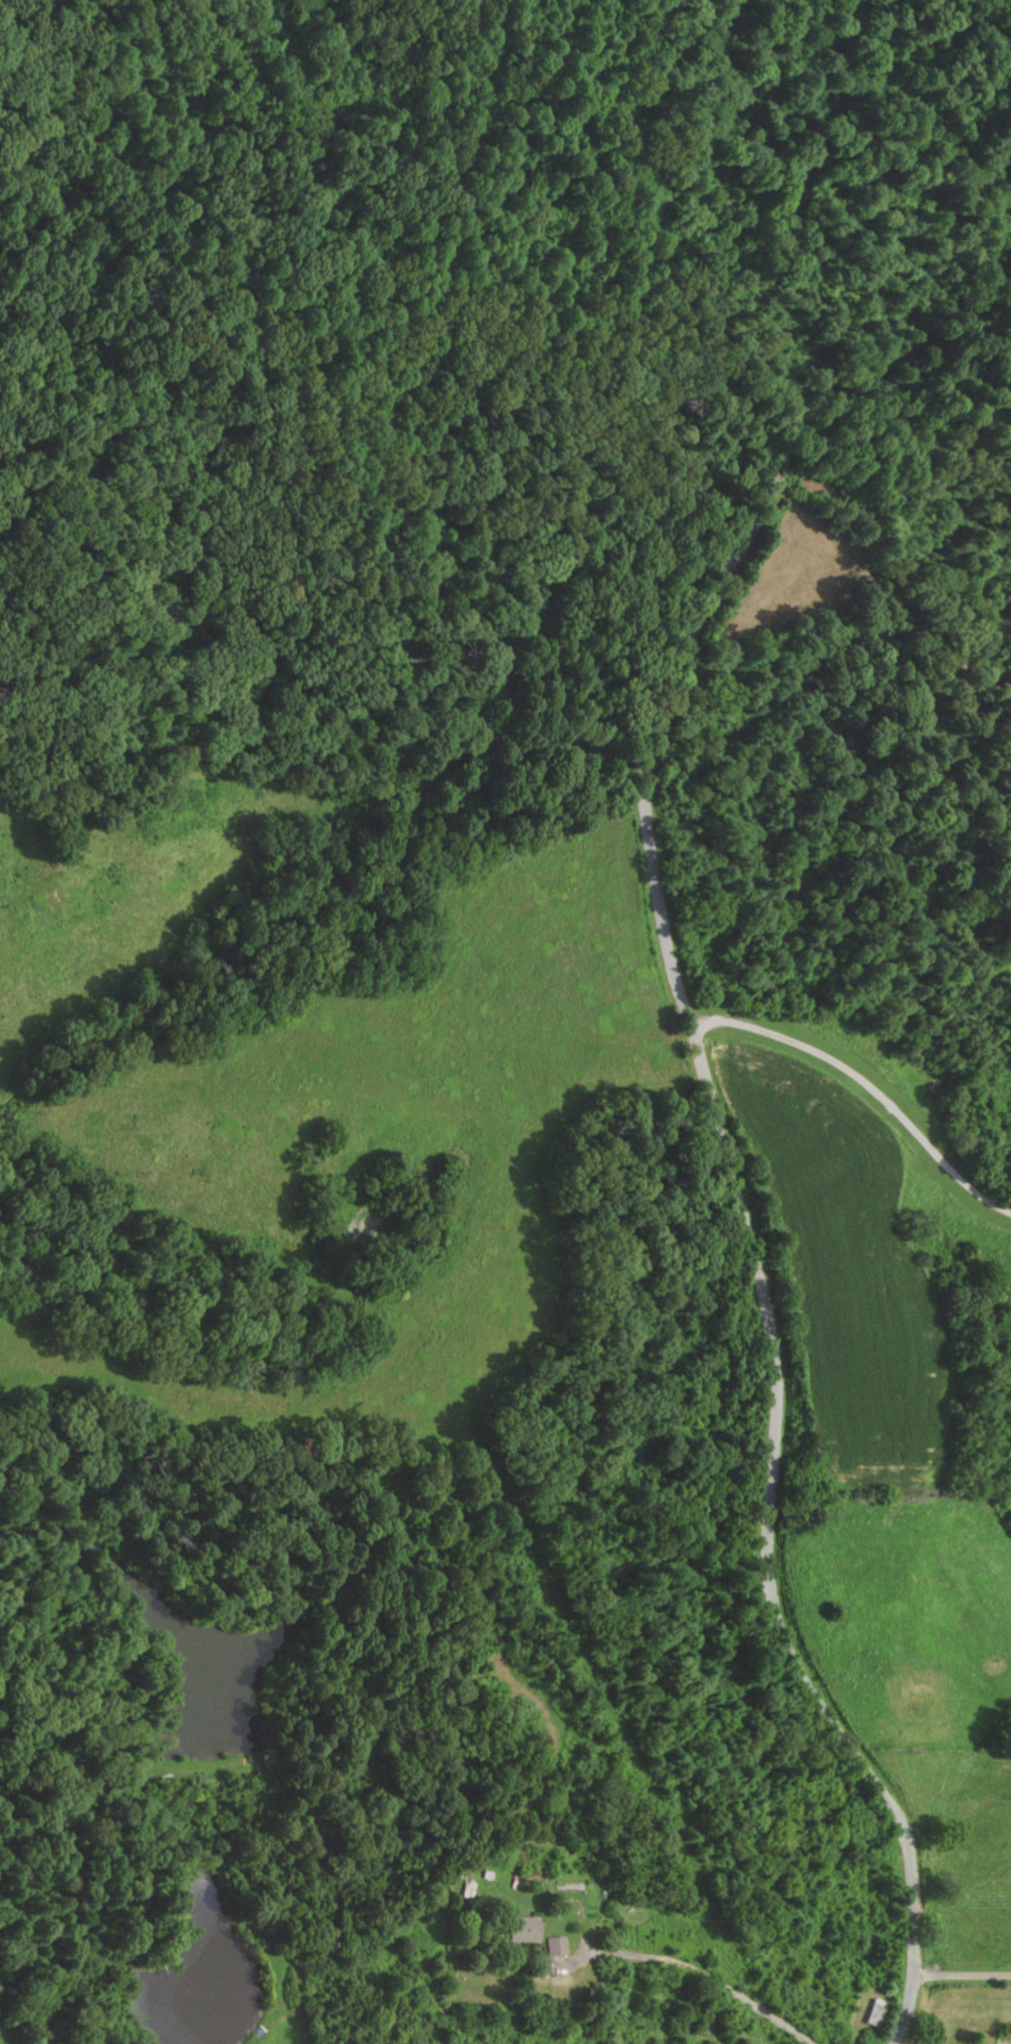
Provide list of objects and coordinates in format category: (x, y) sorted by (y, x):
park: (361, 313)
road: (684, 1038)
road: (859, 1085)
building: (959, 1900)
building: (527, 1929)
building: (554, 1945)
road: (958, 1973)
road: (708, 1976)
building: (872, 2013)

